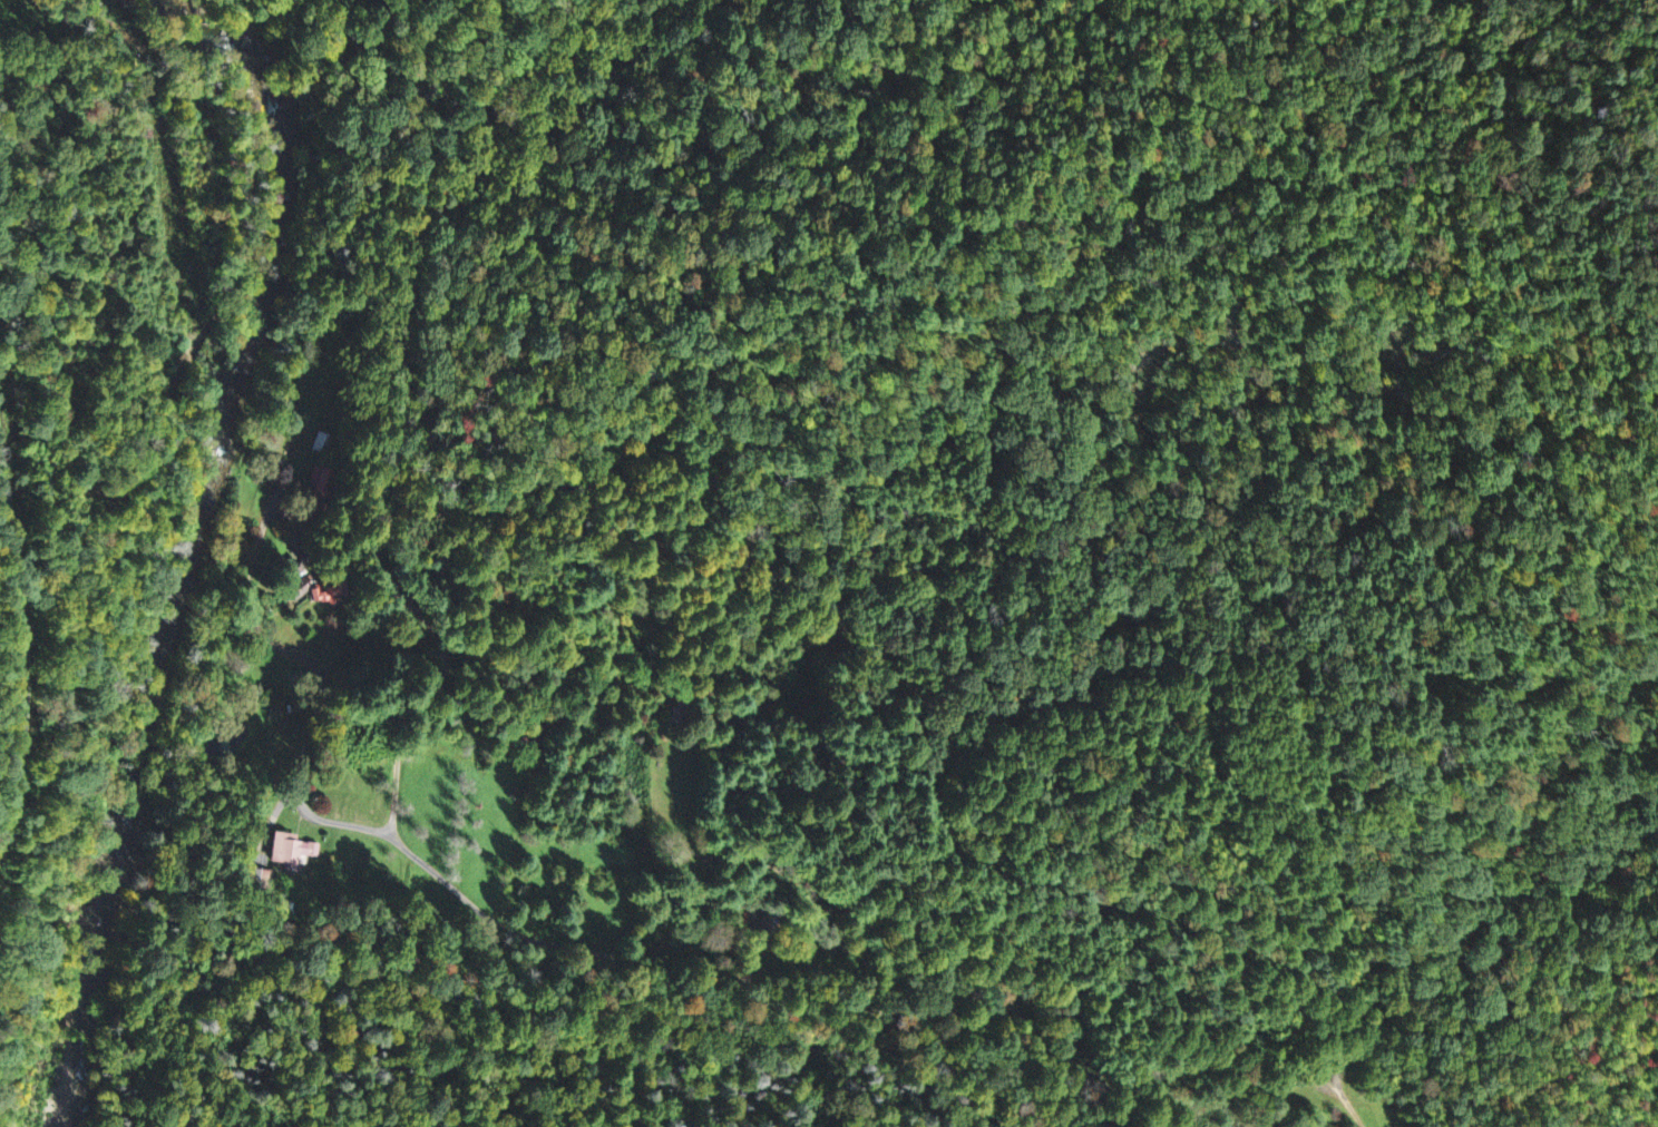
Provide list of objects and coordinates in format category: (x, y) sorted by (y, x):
road: (175, 365)
river: (251, 427)
building: (321, 440)
building: (318, 492)
road: (334, 517)
building: (328, 590)
road: (22, 656)
building: (290, 847)
river: (98, 937)
river: (75, 1043)

